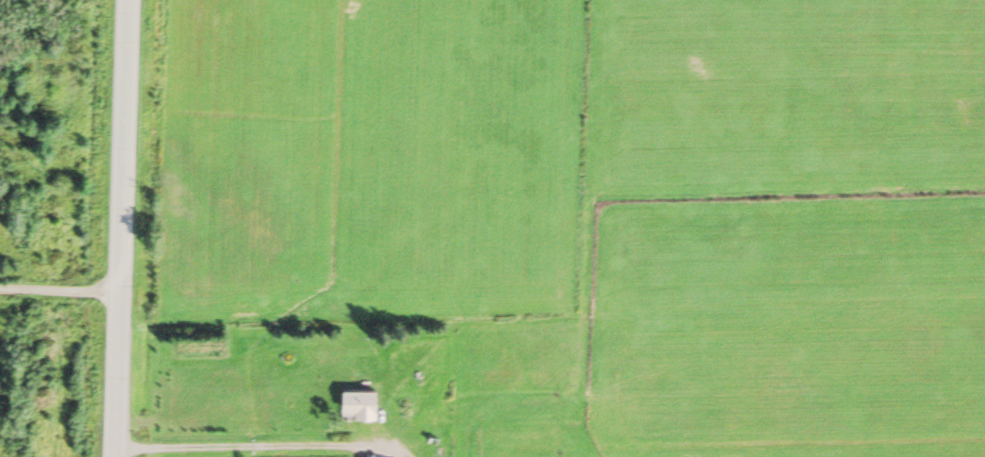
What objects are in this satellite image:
road: (120, 228)
building: (359, 395)

